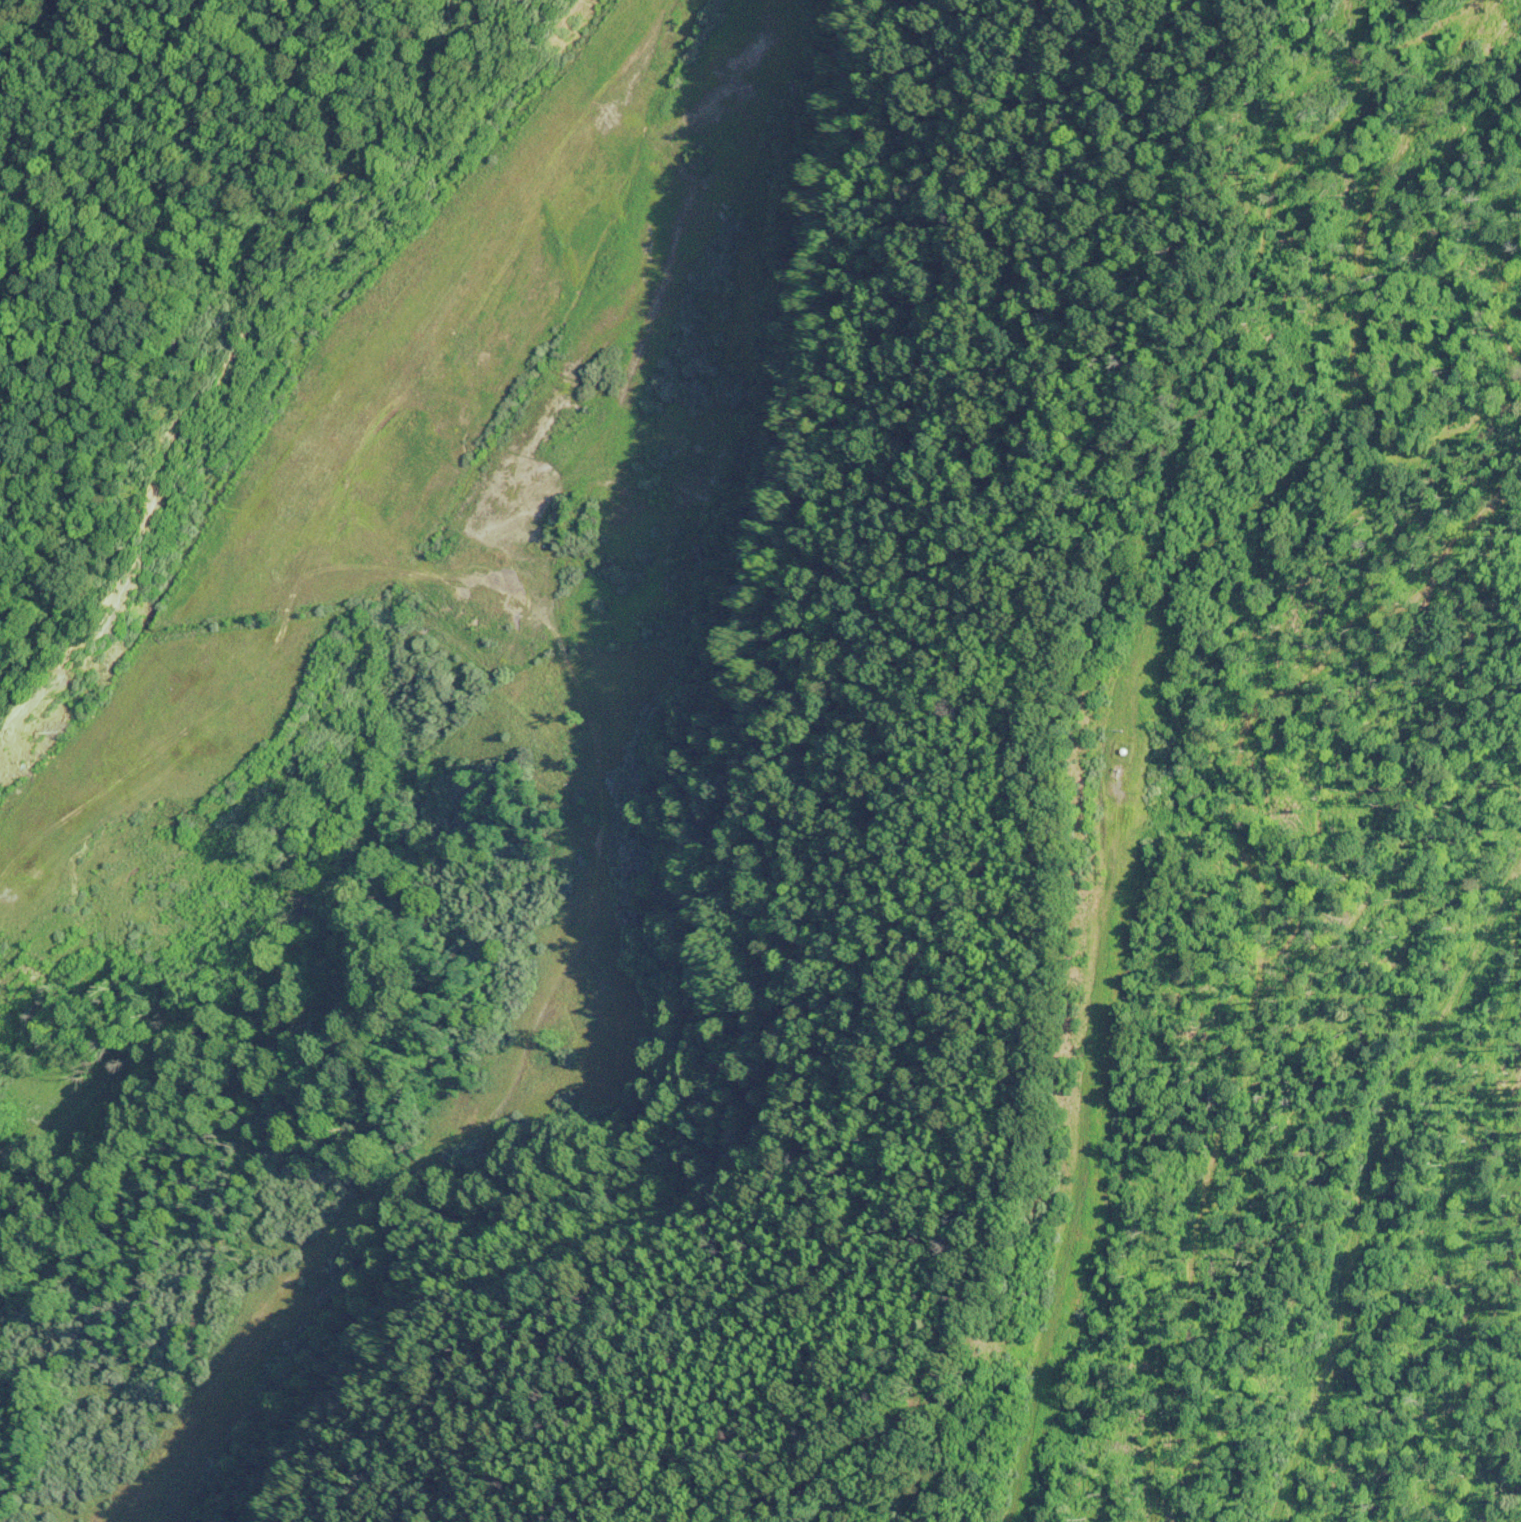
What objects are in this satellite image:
road: (253, 1314)

